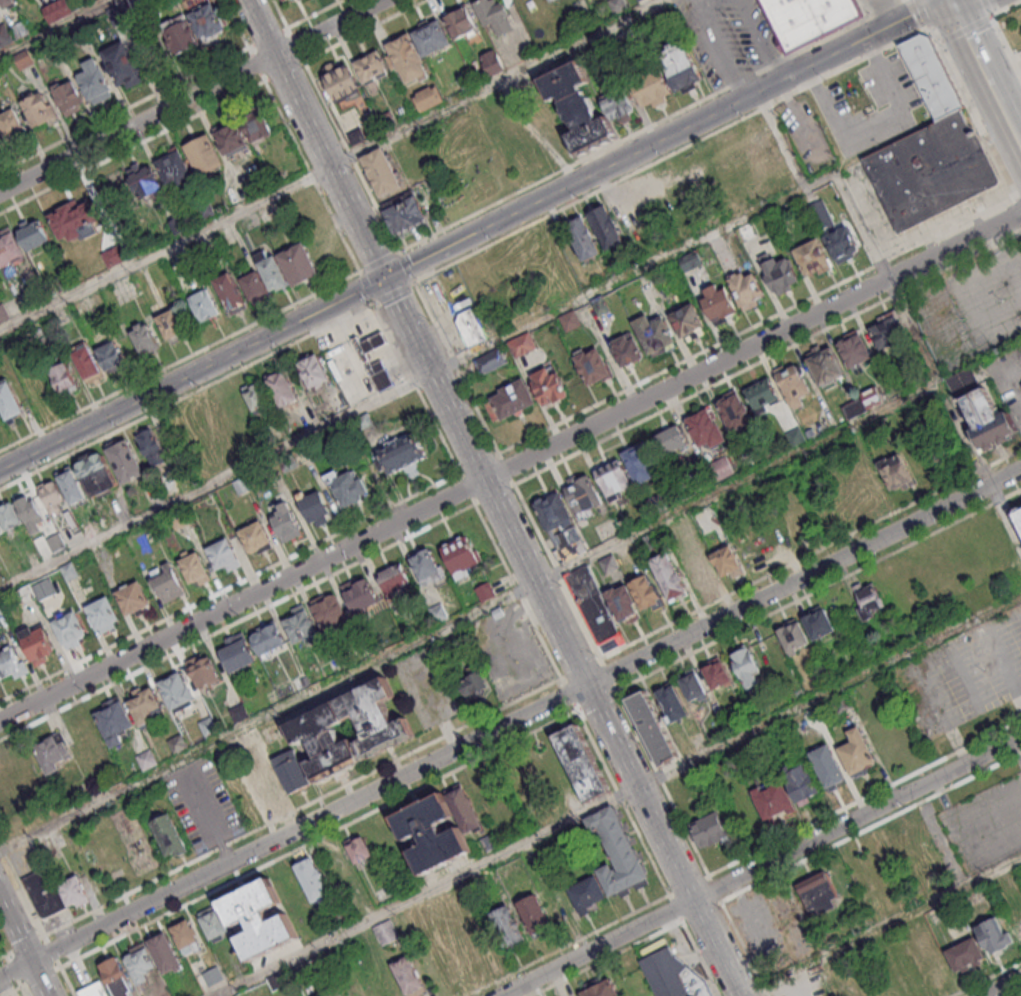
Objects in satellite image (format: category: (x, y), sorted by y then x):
building: (301, 0)
building: (286, 1)
building: (552, 1)
building: (641, 1)
building: (9, 4)
building: (139, 6)
building: (619, 6)
road: (954, 7)
road: (973, 7)
road: (1004, 8)
building: (58, 12)
road: (922, 13)
road: (280, 14)
road: (315, 14)
building: (121, 15)
traffic signals: (958, 15)
building: (495, 17)
building: (810, 19)
road: (235, 23)
building: (207, 24)
building: (463, 24)
road: (55, 28)
building: (650, 28)
road: (963, 30)
building: (21, 31)
road: (367, 31)
building: (81, 34)
building: (180, 36)
parking lot: (726, 36)
building: (5, 37)
road: (268, 37)
road: (1002, 37)
building: (432, 39)
road: (766, 39)
building: (625, 41)
road: (296, 45)
building: (603, 49)
road: (719, 49)
building: (56, 54)
road: (979, 58)
building: (25, 61)
building: (408, 62)
building: (43, 63)
road: (256, 64)
building: (494, 66)
building: (123, 68)
building: (372, 69)
road: (284, 71)
building: (683, 72)
building: (932, 78)
building: (466, 82)
road: (498, 83)
building: (96, 84)
building: (340, 84)
building: (652, 88)
road: (190, 95)
building: (68, 100)
building: (429, 100)
building: (618, 106)
parking lot: (870, 108)
road: (124, 109)
building: (579, 110)
building: (38, 111)
road: (971, 112)
road: (1007, 113)
building: (387, 121)
road: (651, 125)
building: (13, 129)
building: (258, 129)
road: (1017, 132)
parking lot: (805, 134)
road: (314, 138)
building: (355, 138)
building: (231, 139)
road: (662, 139)
road: (780, 141)
building: (2, 143)
road: (132, 148)
road: (671, 153)
building: (205, 158)
road: (351, 158)
building: (175, 171)
building: (932, 172)
building: (381, 175)
road: (312, 177)
building: (146, 185)
road: (1018, 203)
building: (207, 212)
building: (405, 217)
building: (823, 218)
building: (76, 225)
building: (178, 228)
building: (606, 231)
building: (748, 233)
building: (33, 238)
building: (584, 242)
road: (688, 248)
building: (843, 248)
road: (164, 250)
building: (10, 251)
building: (116, 258)
building: (814, 261)
road: (379, 262)
building: (691, 263)
building: (299, 268)
road: (407, 268)
building: (273, 275)
building: (780, 276)
traffic signals: (384, 278)
road: (367, 288)
building: (256, 291)
road: (394, 293)
building: (747, 293)
building: (231, 296)
parking lot: (989, 297)
building: (719, 307)
building: (205, 308)
building: (601, 308)
building: (4, 315)
building: (571, 323)
building: (689, 325)
road: (756, 325)
building: (171, 327)
parking lot: (942, 327)
building: (471, 328)
building: (892, 332)
building: (655, 337)
building: (145, 341)
building: (369, 345)
building: (523, 347)
building: (1020, 348)
building: (856, 352)
building: (628, 353)
parking lot: (350, 356)
building: (111, 357)
road: (768, 357)
road: (180, 361)
building: (492, 363)
building: (88, 365)
road: (457, 368)
building: (826, 369)
building: (593, 370)
road: (191, 373)
building: (313, 373)
building: (380, 377)
building: (963, 381)
building: (64, 382)
road: (418, 388)
building: (794, 388)
building: (550, 390)
building: (283, 392)
road: (187, 397)
building: (257, 399)
building: (763, 400)
building: (873, 400)
building: (9, 403)
building: (511, 404)
building: (855, 411)
building: (736, 415)
building: (364, 423)
building: (988, 425)
building: (707, 432)
building: (797, 439)
building: (671, 442)
building: (151, 447)
building: (402, 458)
building: (287, 462)
road: (479, 463)
building: (125, 464)
road: (510, 467)
building: (642, 467)
road: (507, 469)
building: (722, 471)
building: (897, 477)
building: (97, 478)
road: (737, 482)
road: (216, 483)
building: (614, 484)
building: (870, 486)
building: (243, 487)
building: (170, 488)
building: (72, 489)
road: (467, 489)
building: (346, 490)
road: (494, 494)
building: (52, 499)
building: (582, 501)
building: (659, 506)
building: (317, 511)
road: (1005, 513)
building: (31, 516)
building: (554, 518)
building: (1018, 518)
building: (10, 519)
building: (180, 520)
building: (286, 526)
building: (687, 529)
building: (2, 534)
building: (257, 542)
building: (57, 544)
building: (651, 545)
building: (568, 548)
road: (810, 553)
building: (224, 558)
building: (461, 560)
building: (729, 566)
building: (193, 568)
building: (611, 568)
building: (424, 570)
road: (555, 571)
building: (70, 573)
building: (697, 573)
building: (669, 581)
building: (167, 586)
road: (229, 586)
building: (395, 586)
road: (817, 590)
building: (46, 591)
road: (517, 591)
building: (485, 594)
building: (646, 594)
building: (24, 596)
building: (359, 598)
building: (134, 603)
building: (623, 606)
building: (870, 606)
building: (1, 610)
building: (594, 610)
building: (439, 615)
building: (329, 616)
building: (104, 619)
road: (237, 621)
building: (820, 627)
building: (301, 629)
building: (70, 633)
road: (562, 637)
building: (268, 642)
building: (796, 642)
building: (38, 649)
parking lot: (509, 651)
building: (238, 657)
road: (935, 657)
building: (12, 667)
building: (748, 667)
road: (579, 668)
road: (605, 671)
building: (718, 671)
building: (204, 674)
parking lot: (962, 675)
building: (694, 685)
building: (474, 689)
parking lot: (428, 691)
road: (828, 691)
building: (178, 694)
road: (568, 694)
road: (594, 699)
building: (672, 700)
building: (144, 709)
building: (240, 714)
road: (267, 716)
building: (375, 720)
road: (510, 722)
building: (115, 724)
building: (209, 729)
building: (651, 729)
building: (254, 740)
building: (325, 744)
building: (178, 745)
building: (858, 753)
building: (53, 758)
building: (148, 761)
building: (581, 763)
building: (827, 766)
building: (294, 773)
road: (660, 780)
building: (799, 780)
crop: (23, 784)
building: (267, 790)
road: (864, 796)
building: (773, 798)
road: (623, 802)
building: (466, 807)
road: (303, 810)
parking lot: (985, 823)
road: (870, 825)
building: (710, 828)
building: (433, 834)
building: (169, 835)
road: (318, 838)
building: (490, 842)
building: (360, 849)
building: (617, 852)
parking lot: (26, 859)
road: (761, 866)
building: (314, 880)
road: (688, 884)
road: (714, 887)
road: (22, 890)
road: (425, 891)
building: (819, 892)
building: (587, 894)
building: (45, 896)
building: (75, 896)
road: (675, 908)
road: (700, 909)
building: (537, 914)
building: (259, 920)
parking lot: (57, 922)
building: (215, 922)
building: (1017, 924)
building: (509, 927)
road: (880, 927)
building: (386, 932)
building: (185, 933)
parking lot: (763, 934)
building: (994, 934)
road: (24, 943)
road: (567, 945)
road: (24, 946)
road: (743, 947)
road: (4, 949)
building: (165, 950)
road: (52, 951)
building: (967, 953)
road: (606, 958)
road: (702, 958)
building: (141, 961)
road: (12, 969)
road: (38, 974)
building: (118, 975)
building: (410, 975)
building: (675, 975)
road: (985, 978)
road: (67, 981)
building: (278, 981)
parking lot: (805, 984)
road: (1004, 987)
building: (602, 988)
building: (94, 989)
road: (9, 990)
road: (21, 991)
road: (1020, 995)

